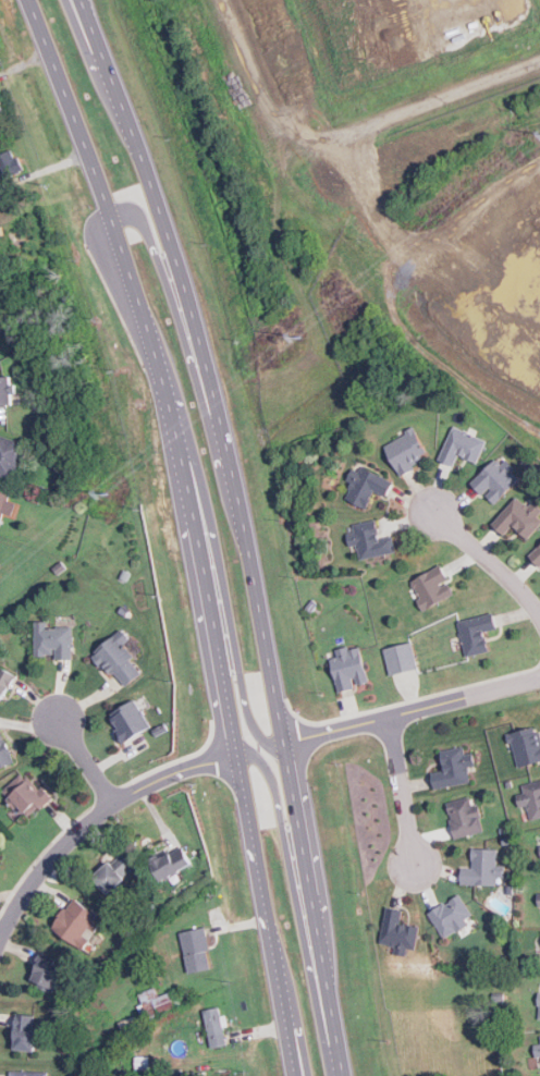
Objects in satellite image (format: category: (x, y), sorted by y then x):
road: (84, 46)
road: (62, 109)
building: (10, 162)
power tower: (430, 232)
road: (133, 293)
road: (188, 359)
road: (207, 364)
building: (5, 391)
road: (174, 423)
building: (461, 445)
building: (405, 451)
building: (9, 456)
power tower: (144, 467)
building: (496, 479)
building: (366, 485)
building: (5, 503)
building: (518, 518)
building: (369, 540)
building: (536, 555)
road: (489, 568)
building: (431, 586)
road: (212, 615)
road: (229, 621)
building: (476, 633)
building: (52, 640)
building: (401, 658)
building: (118, 659)
building: (347, 668)
building: (4, 682)
road: (415, 712)
building: (128, 720)
building: (526, 745)
building: (4, 754)
road: (87, 759)
building: (453, 768)
building: (26, 793)
road: (400, 793)
building: (530, 798)
building: (464, 817)
road: (95, 818)
road: (306, 827)
building: (171, 863)
building: (481, 868)
building: (114, 873)
building: (538, 898)
road: (297, 904)
road: (268, 915)
building: (452, 917)
building: (77, 924)
building: (397, 929)
building: (196, 950)
building: (46, 971)
road: (333, 975)
building: (155, 1002)
building: (538, 1006)
road: (297, 1023)
building: (216, 1027)
building: (25, 1032)
building: (539, 1037)
building: (536, 1050)
road: (344, 1057)
building: (29, 1073)

